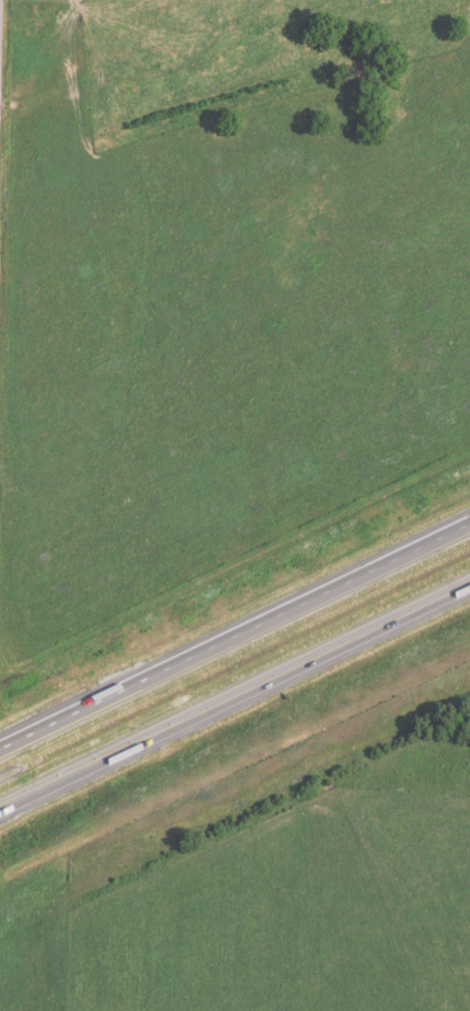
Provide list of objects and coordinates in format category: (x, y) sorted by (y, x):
road: (235, 634)
road: (234, 695)

